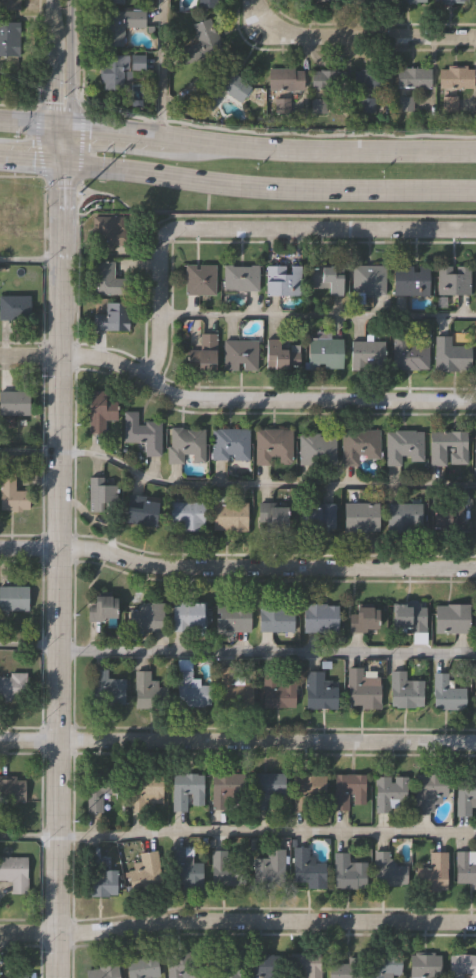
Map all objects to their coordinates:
building: (405, 0)
building: (113, 1)
building: (331, 1)
building: (368, 1)
building: (450, 1)
building: (208, 3)
building: (475, 3)
building: (9, 4)
building: (121, 23)
building: (9, 38)
road: (354, 38)
building: (202, 41)
building: (120, 69)
road: (162, 70)
building: (370, 77)
building: (413, 77)
building: (456, 77)
road: (46, 81)
road: (68, 81)
building: (294, 83)
building: (325, 85)
building: (224, 87)
park: (16, 96)
road: (33, 120)
traffic signals: (46, 122)
traffic signals: (67, 125)
road: (144, 138)
road: (348, 153)
traffic signals: (58, 162)
road: (237, 186)
building: (108, 231)
road: (246, 231)
building: (6, 234)
road: (28, 260)
building: (240, 276)
building: (453, 277)
building: (108, 278)
building: (328, 278)
building: (369, 278)
building: (411, 278)
building: (200, 279)
building: (283, 280)
building: (14, 309)
building: (112, 315)
road: (317, 316)
building: (203, 351)
building: (324, 351)
building: (408, 352)
building: (368, 353)
building: (451, 353)
building: (239, 354)
building: (278, 354)
road: (233, 398)
building: (13, 404)
building: (98, 410)
building: (140, 433)
building: (359, 443)
building: (185, 444)
building: (228, 444)
building: (271, 445)
building: (403, 445)
building: (317, 446)
building: (437, 448)
building: (475, 449)
road: (234, 484)
building: (102, 493)
building: (11, 496)
building: (141, 510)
building: (229, 513)
building: (187, 514)
building: (272, 514)
building: (404, 514)
building: (362, 515)
building: (447, 515)
building: (475, 515)
building: (318, 516)
road: (236, 568)
road: (56, 569)
building: (13, 600)
building: (101, 608)
building: (147, 615)
building: (189, 615)
building: (320, 615)
building: (409, 615)
building: (233, 616)
building: (275, 616)
building: (364, 616)
building: (452, 617)
road: (237, 653)
building: (13, 687)
building: (107, 689)
building: (192, 689)
building: (235, 689)
building: (363, 689)
building: (149, 691)
building: (319, 691)
building: (406, 692)
building: (446, 693)
building: (277, 694)
building: (475, 696)
road: (238, 741)
building: (226, 787)
building: (266, 787)
building: (99, 788)
building: (187, 789)
building: (145, 790)
building: (309, 790)
building: (348, 790)
building: (11, 791)
building: (429, 791)
building: (389, 792)
building: (465, 794)
road: (237, 830)
building: (225, 866)
building: (270, 866)
building: (184, 867)
building: (308, 868)
building: (388, 868)
building: (465, 868)
building: (348, 870)
building: (145, 871)
building: (433, 872)
building: (13, 875)
building: (100, 877)
road: (237, 922)
building: (384, 964)
building: (425, 964)
building: (303, 965)
building: (180, 966)
building: (224, 966)
building: (463, 966)
building: (262, 967)
building: (141, 969)
building: (344, 970)
building: (104, 972)
building: (7, 977)

